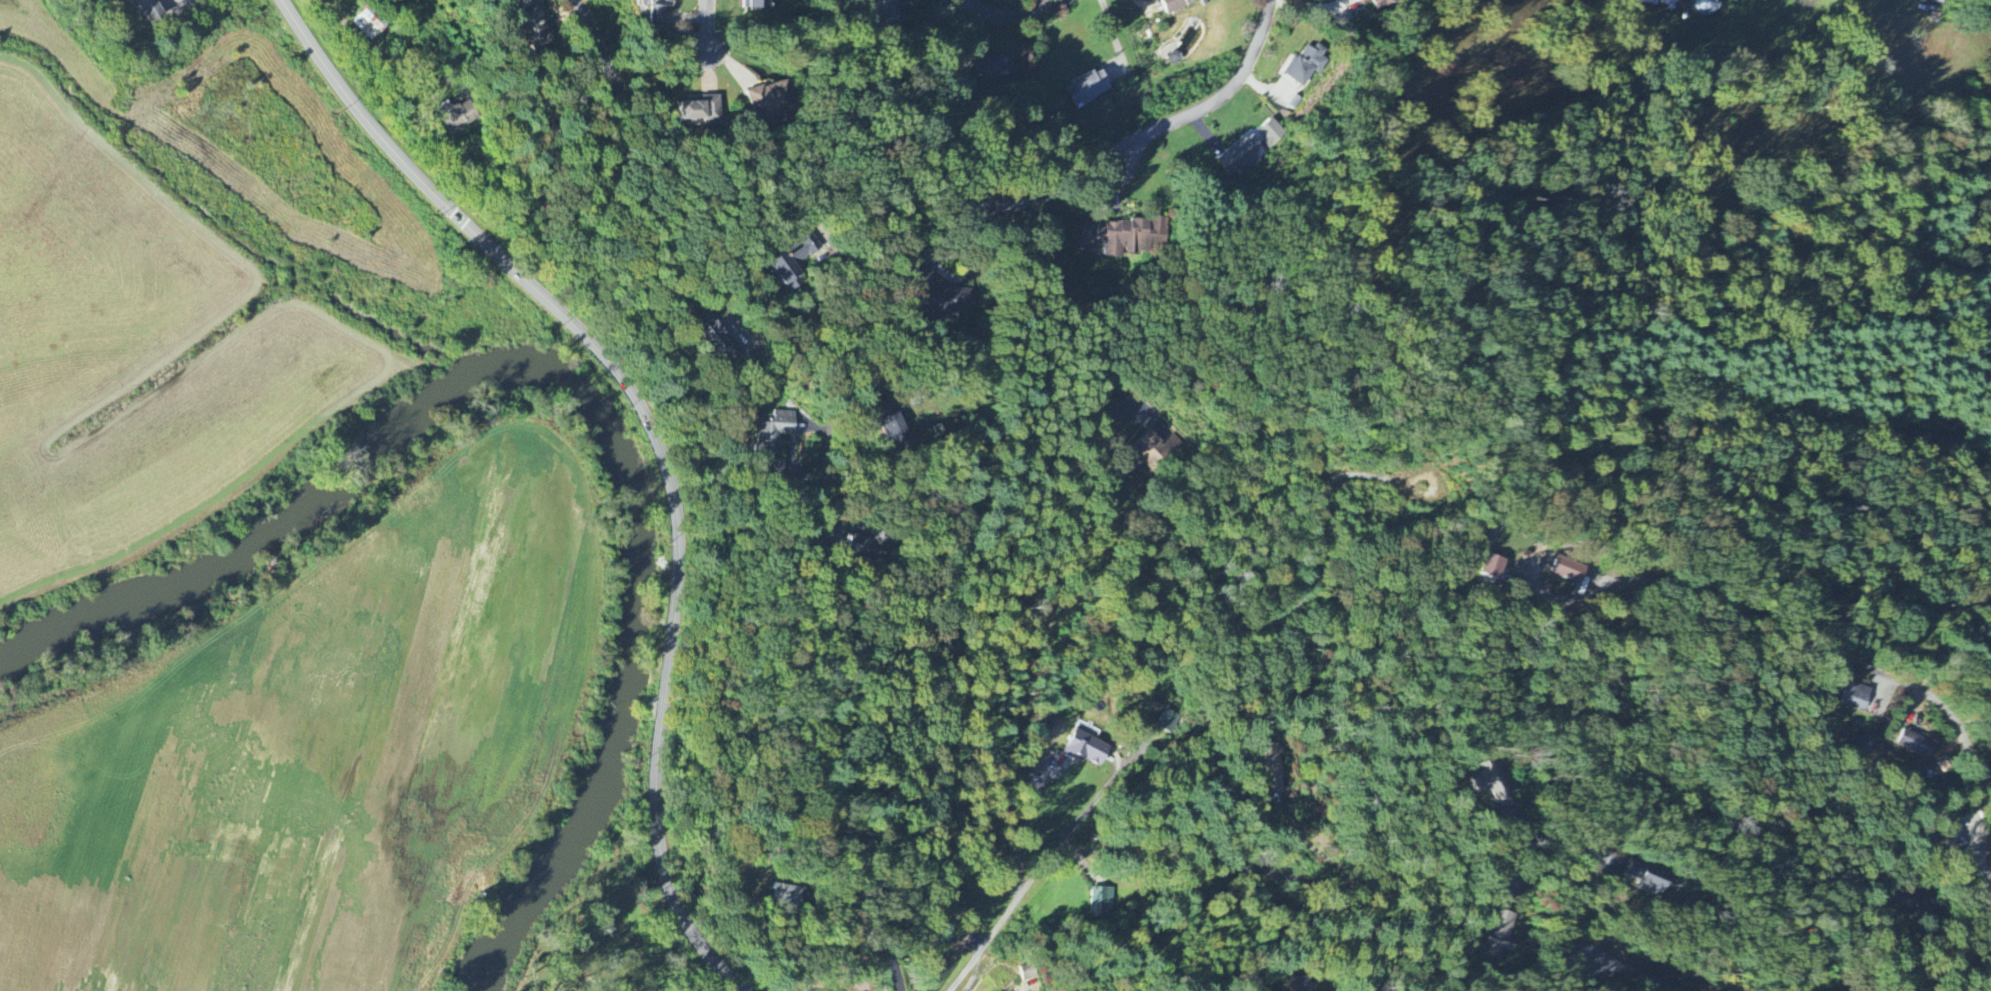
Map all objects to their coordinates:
building: (1650, 2)
building: (1668, 2)
road: (174, 3)
building: (1381, 3)
building: (758, 4)
building: (1179, 4)
building: (1707, 7)
road: (1315, 8)
building: (151, 10)
building: (887, 10)
building: (658, 11)
road: (1013, 15)
building: (369, 24)
road: (706, 27)
building: (535, 28)
road: (1116, 40)
road: (595, 42)
building: (1307, 65)
building: (992, 66)
building: (1089, 87)
road: (1213, 102)
building: (772, 103)
building: (701, 111)
building: (459, 117)
building: (1273, 133)
building: (1241, 157)
building: (1005, 206)
building: (1131, 237)
building: (793, 261)
road: (857, 273)
building: (944, 301)
building: (716, 340)
road: (844, 344)
building: (891, 431)
building: (775, 433)
road: (659, 441)
building: (1154, 450)
building: (777, 468)
building: (865, 547)
river: (239, 549)
building: (1485, 566)
road: (1535, 569)
building: (1562, 569)
road: (1194, 574)
river: (638, 636)
road: (1860, 666)
road: (936, 670)
road: (823, 679)
building: (1849, 695)
building: (1167, 720)
building: (1910, 744)
building: (1858, 746)
building: (1081, 750)
building: (1271, 769)
building: (1487, 784)
road: (1529, 828)
road: (1313, 848)
road: (1051, 859)
road: (1532, 875)
road: (1290, 876)
building: (1643, 879)
building: (776, 896)
building: (1103, 903)
road: (1570, 904)
building: (1989, 934)
building: (1495, 935)
building: (1027, 972)
road: (1633, 972)
road: (1579, 977)

